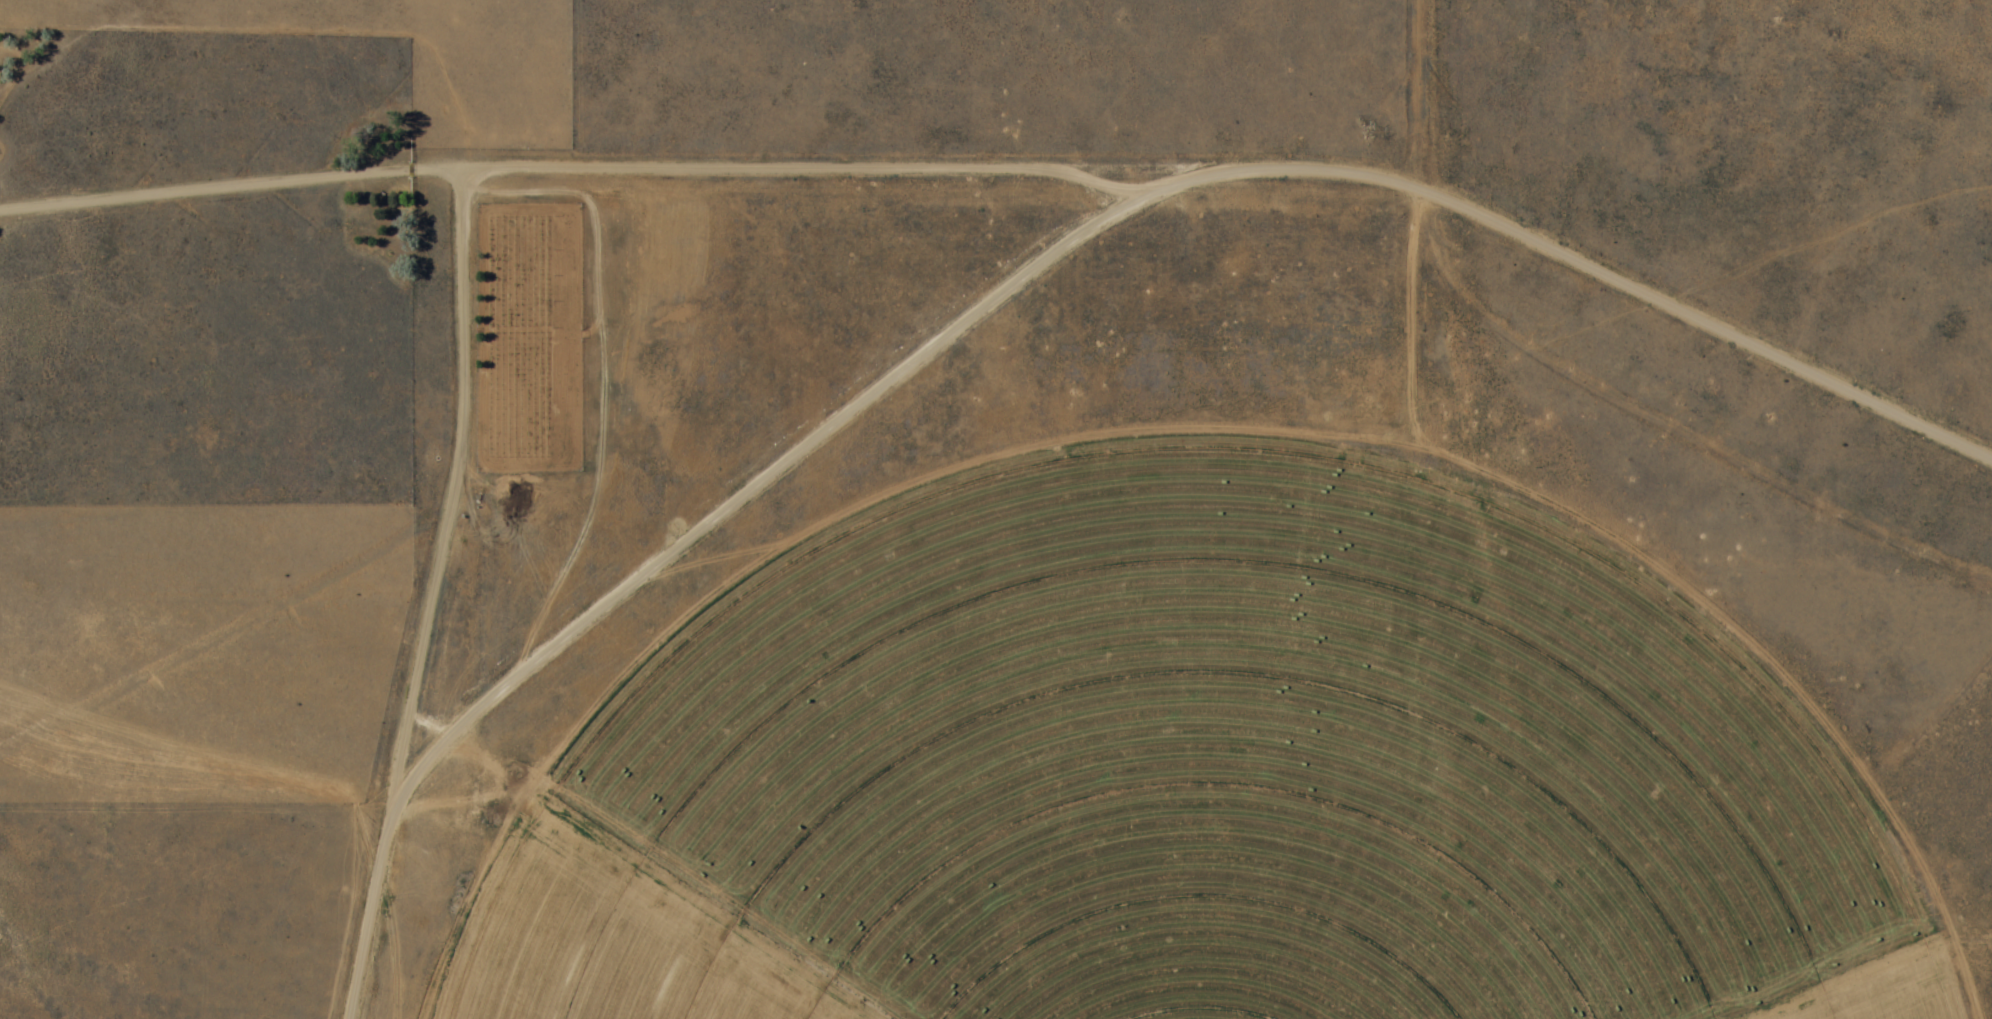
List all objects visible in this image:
road: (430, 189)

